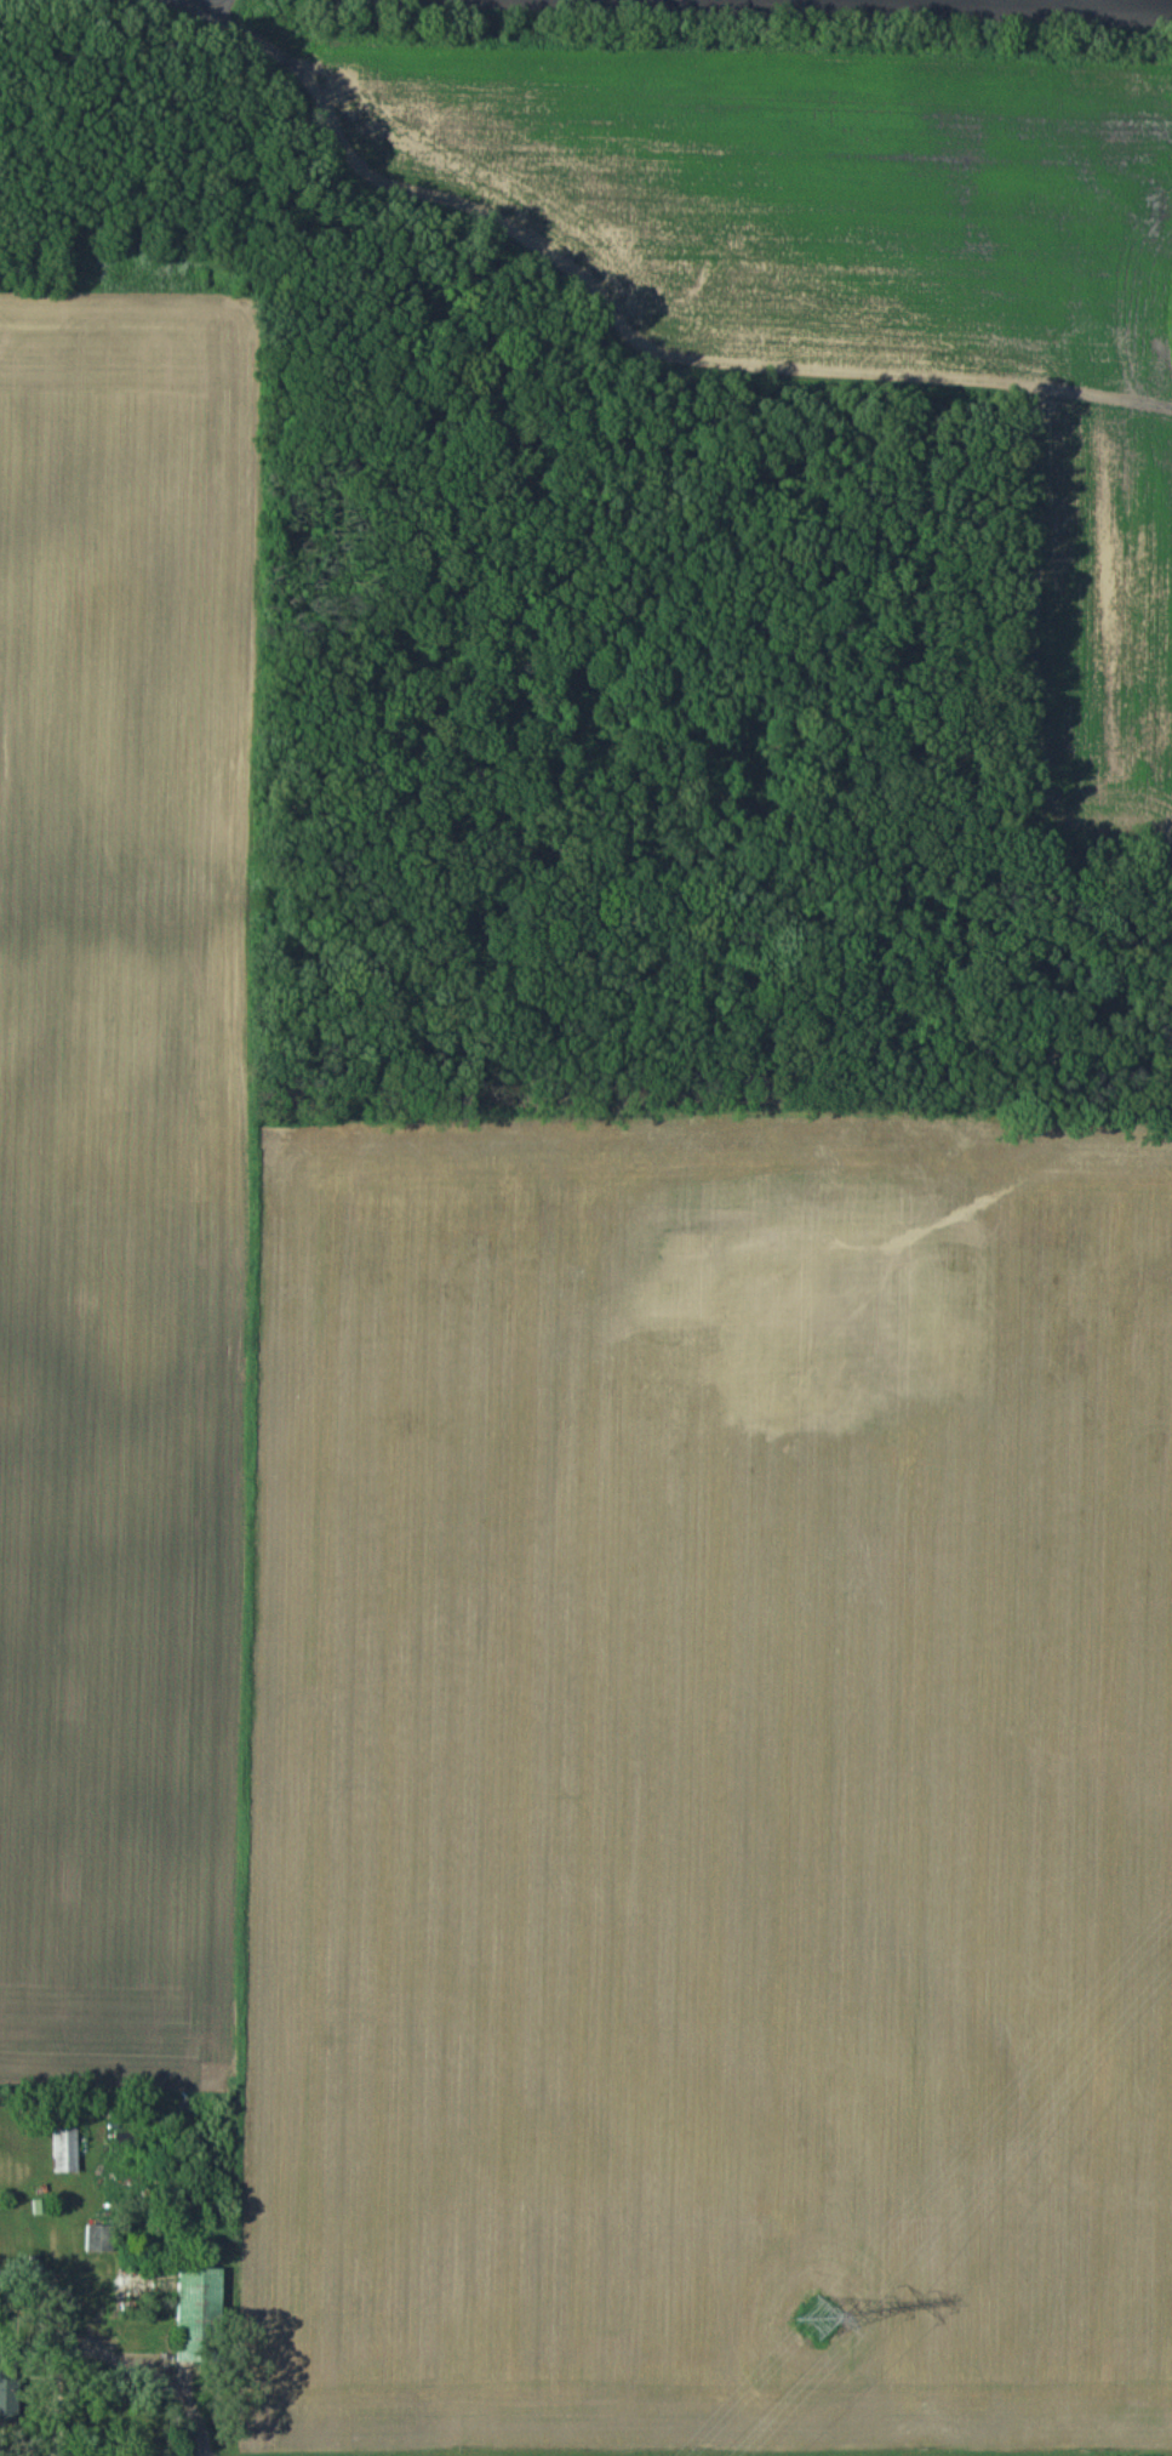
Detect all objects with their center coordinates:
building: (63, 2148)
building: (97, 2236)
building: (195, 2313)
power tower: (812, 2319)

